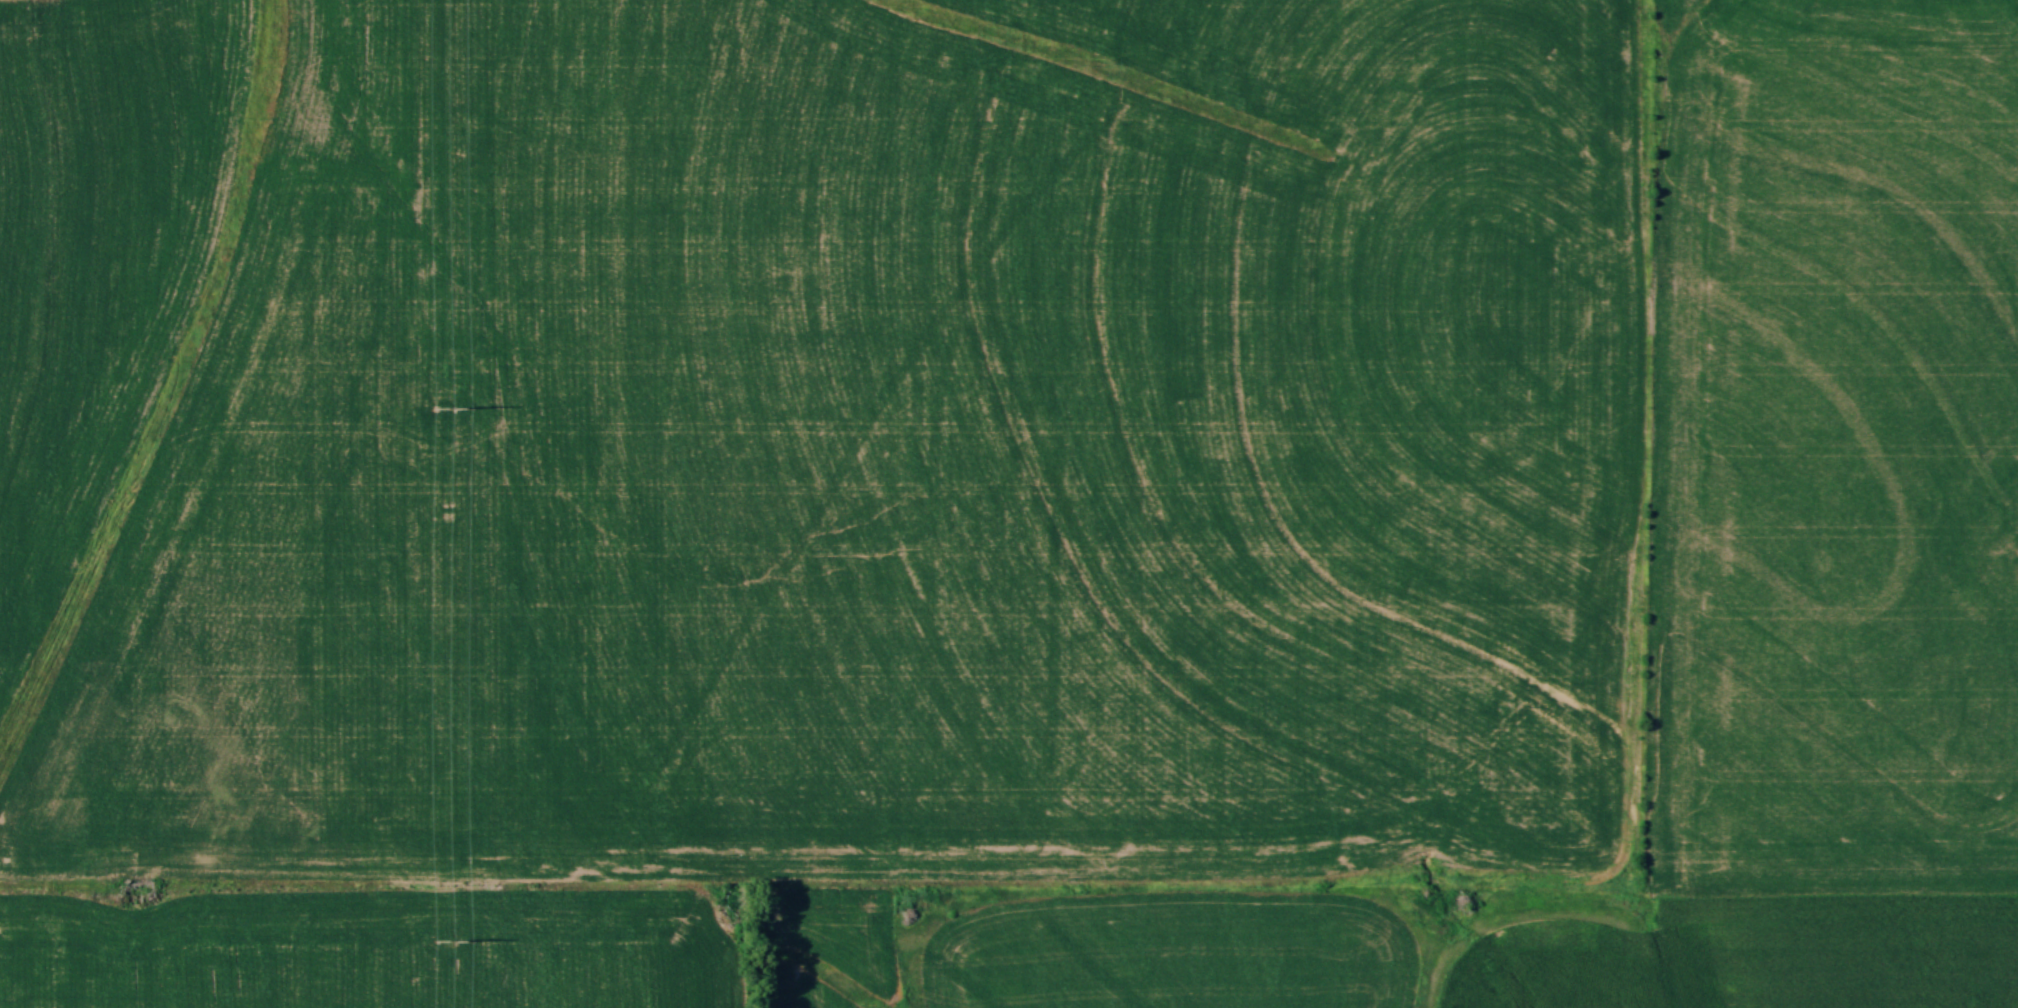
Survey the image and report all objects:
power tower: (448, 407)
power tower: (449, 940)

